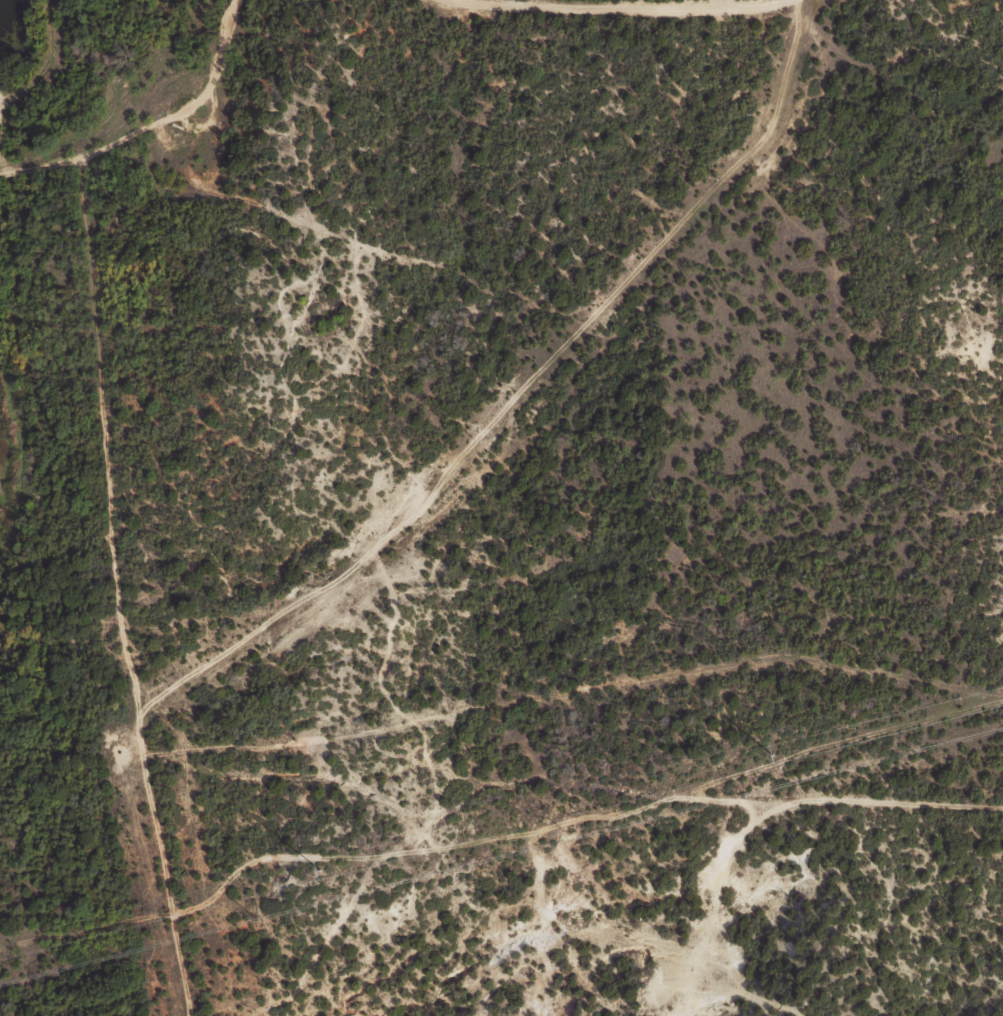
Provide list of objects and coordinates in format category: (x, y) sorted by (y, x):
road: (655, 26)
road: (142, 114)
power tower: (767, 754)
power tower: (316, 871)

